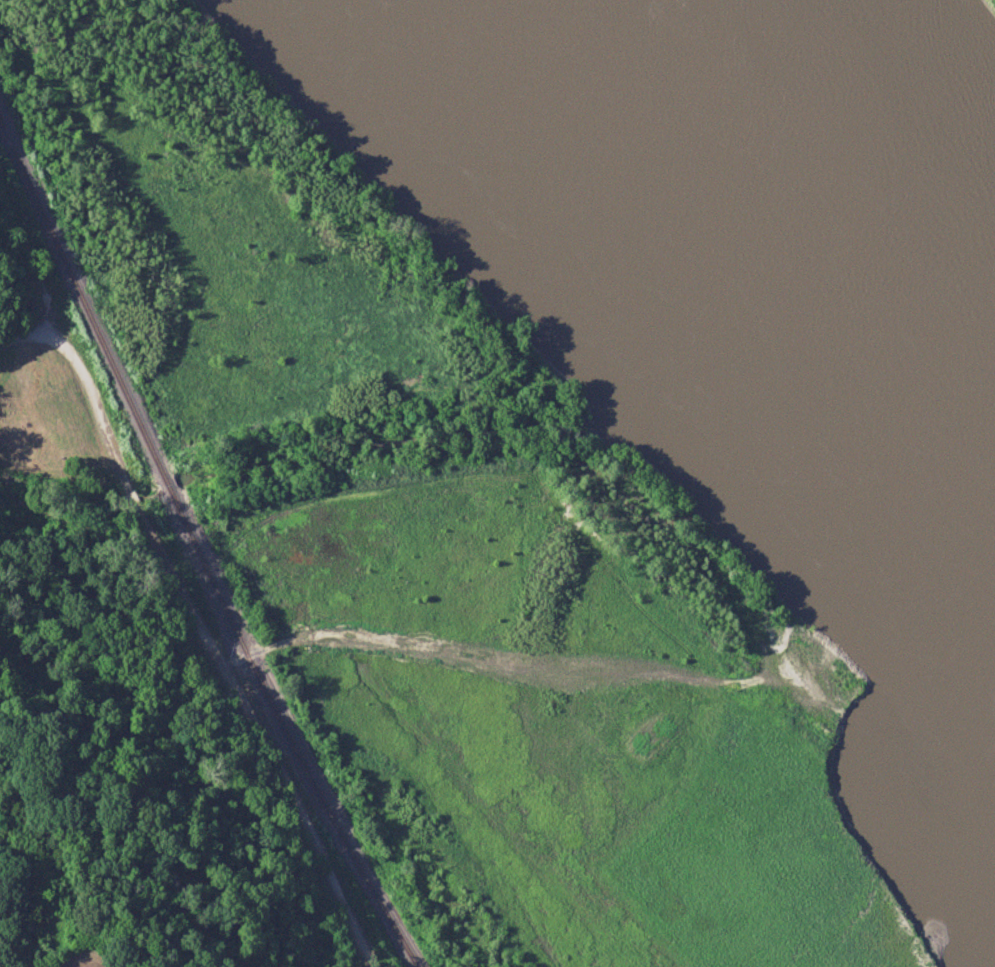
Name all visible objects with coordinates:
river: (784, 200)
road: (44, 306)
road: (19, 339)
railway: (197, 550)
road: (218, 643)
road: (482, 658)

